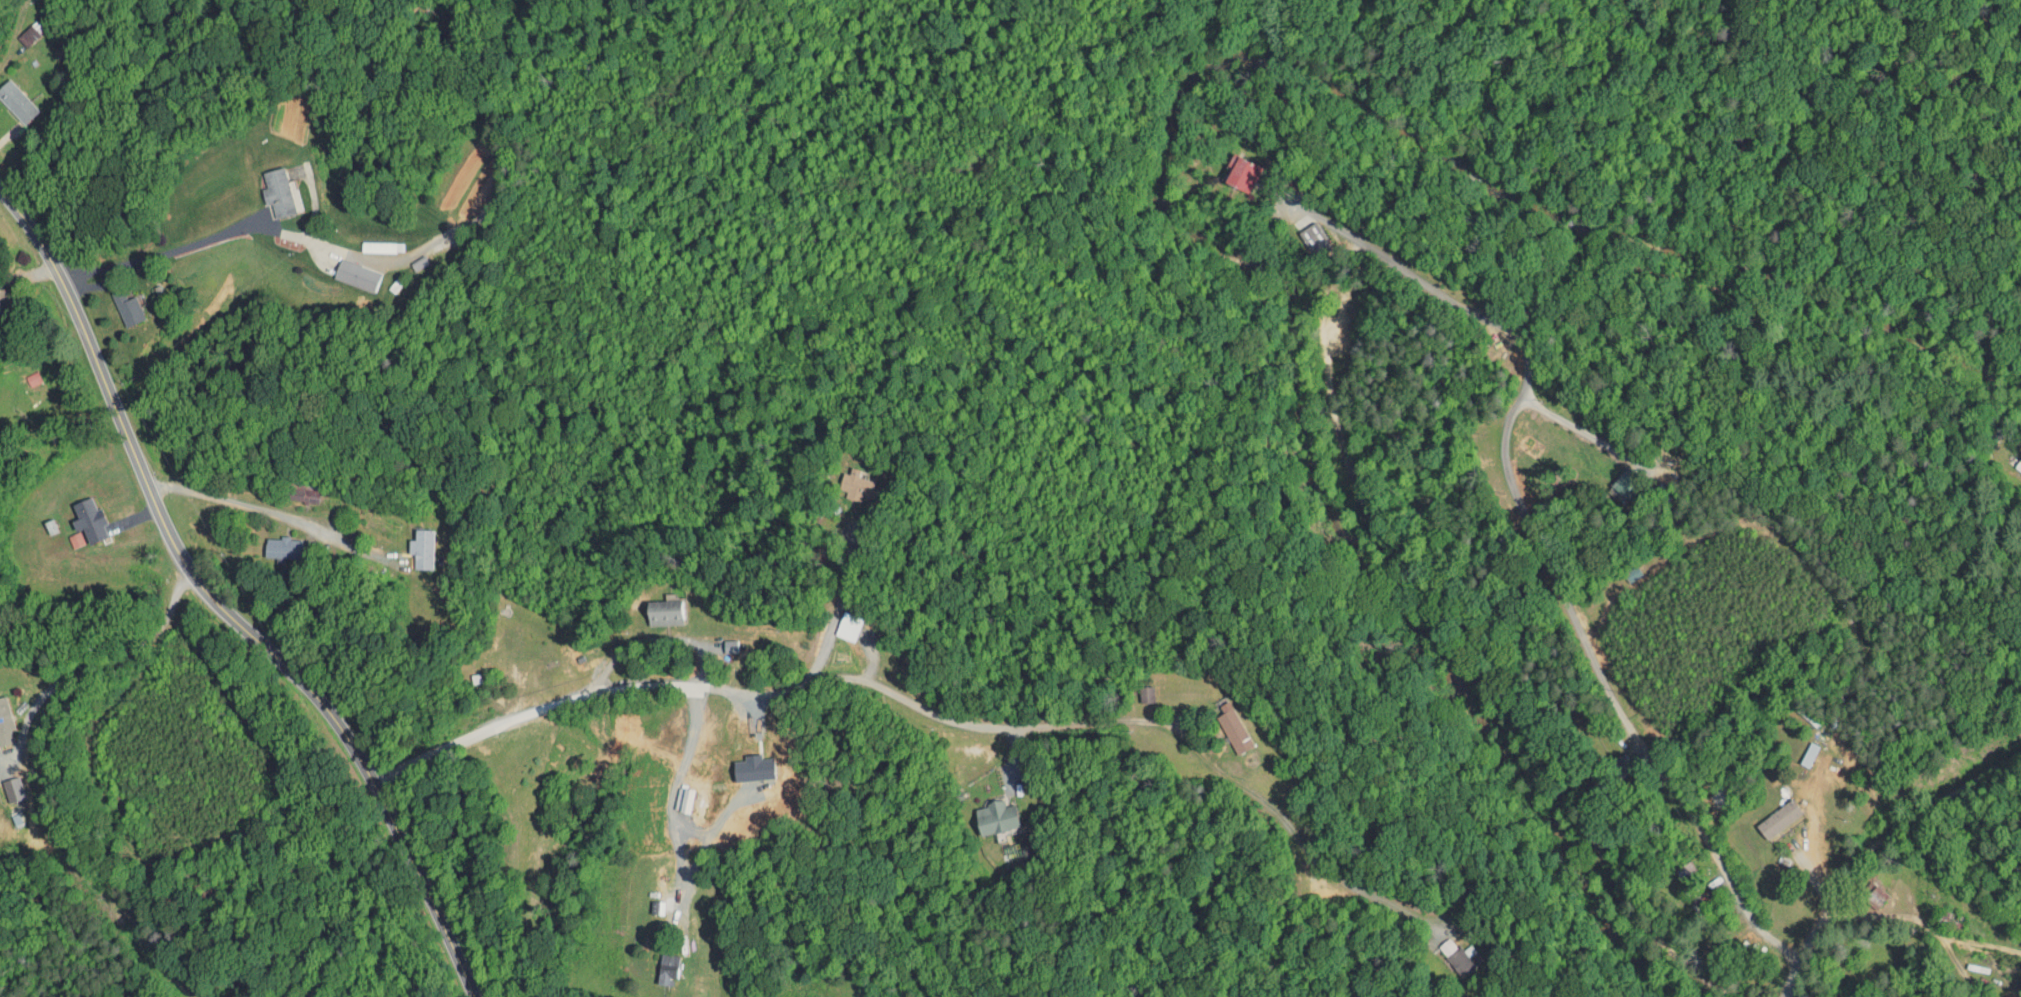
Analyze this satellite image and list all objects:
building: (15, 29)
road: (31, 50)
building: (9, 100)
building: (1229, 167)
building: (263, 186)
building: (1300, 229)
road: (161, 252)
building: (343, 269)
building: (117, 305)
road: (1576, 427)
building: (845, 480)
building: (1611, 482)
road: (273, 511)
building: (77, 514)
road: (1535, 534)
building: (269, 542)
building: (407, 543)
road: (219, 606)
building: (650, 607)
road: (837, 608)
building: (833, 620)
road: (655, 638)
road: (864, 640)
road: (102, 661)
building: (1135, 687)
road: (963, 714)
building: (0, 721)
building: (1220, 721)
building: (0, 734)
building: (1796, 747)
building: (3, 782)
road: (707, 795)
building: (982, 810)
building: (1766, 812)
road: (1870, 848)
road: (1816, 874)
road: (252, 888)
road: (1924, 926)
building: (1445, 949)
building: (654, 962)

